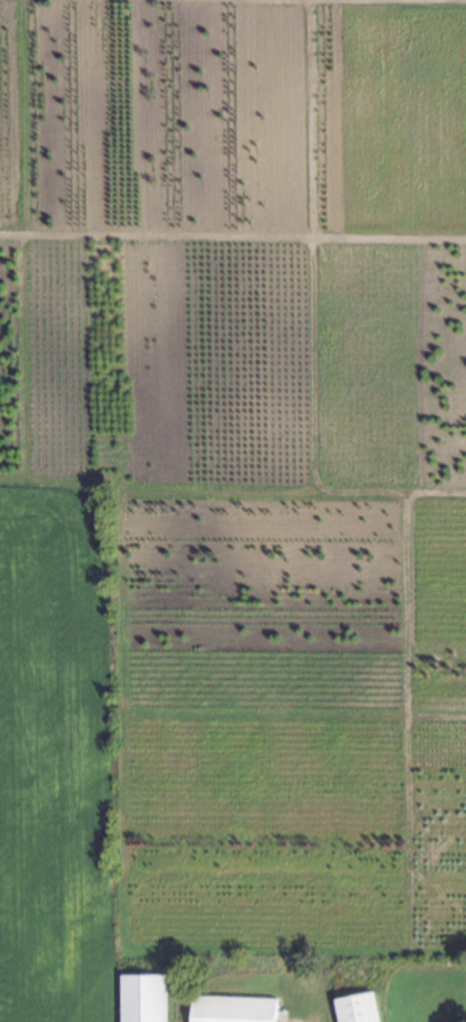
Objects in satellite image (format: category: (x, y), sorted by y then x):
building: (142, 997)
building: (358, 1007)
building: (232, 1008)

